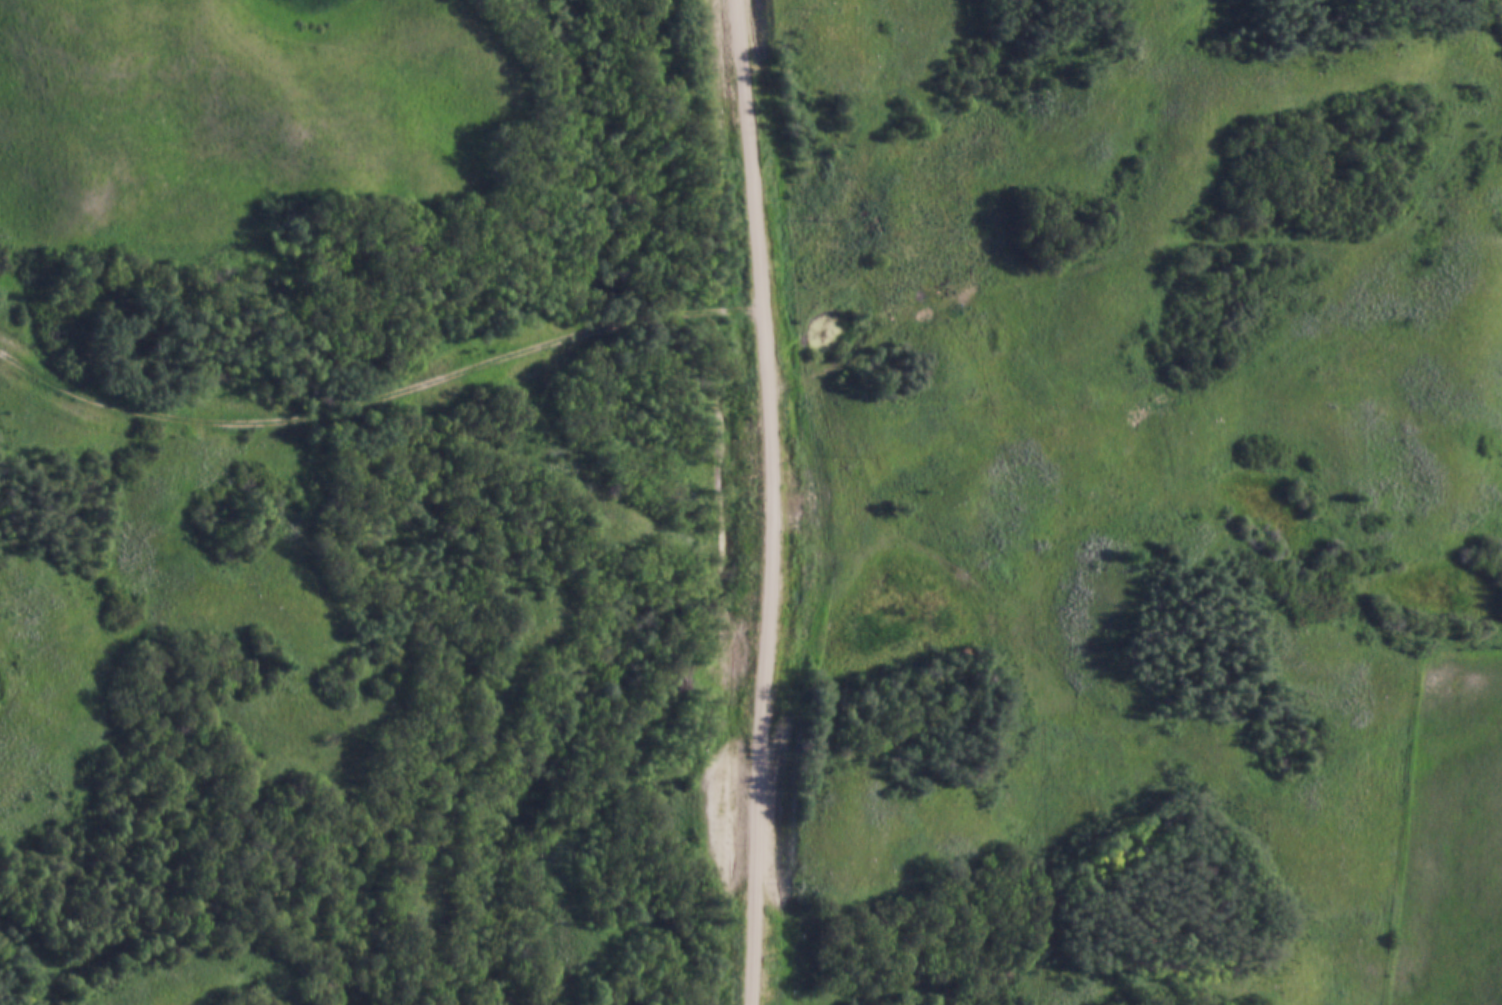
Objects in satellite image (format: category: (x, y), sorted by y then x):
road: (383, 389)
road: (798, 502)

